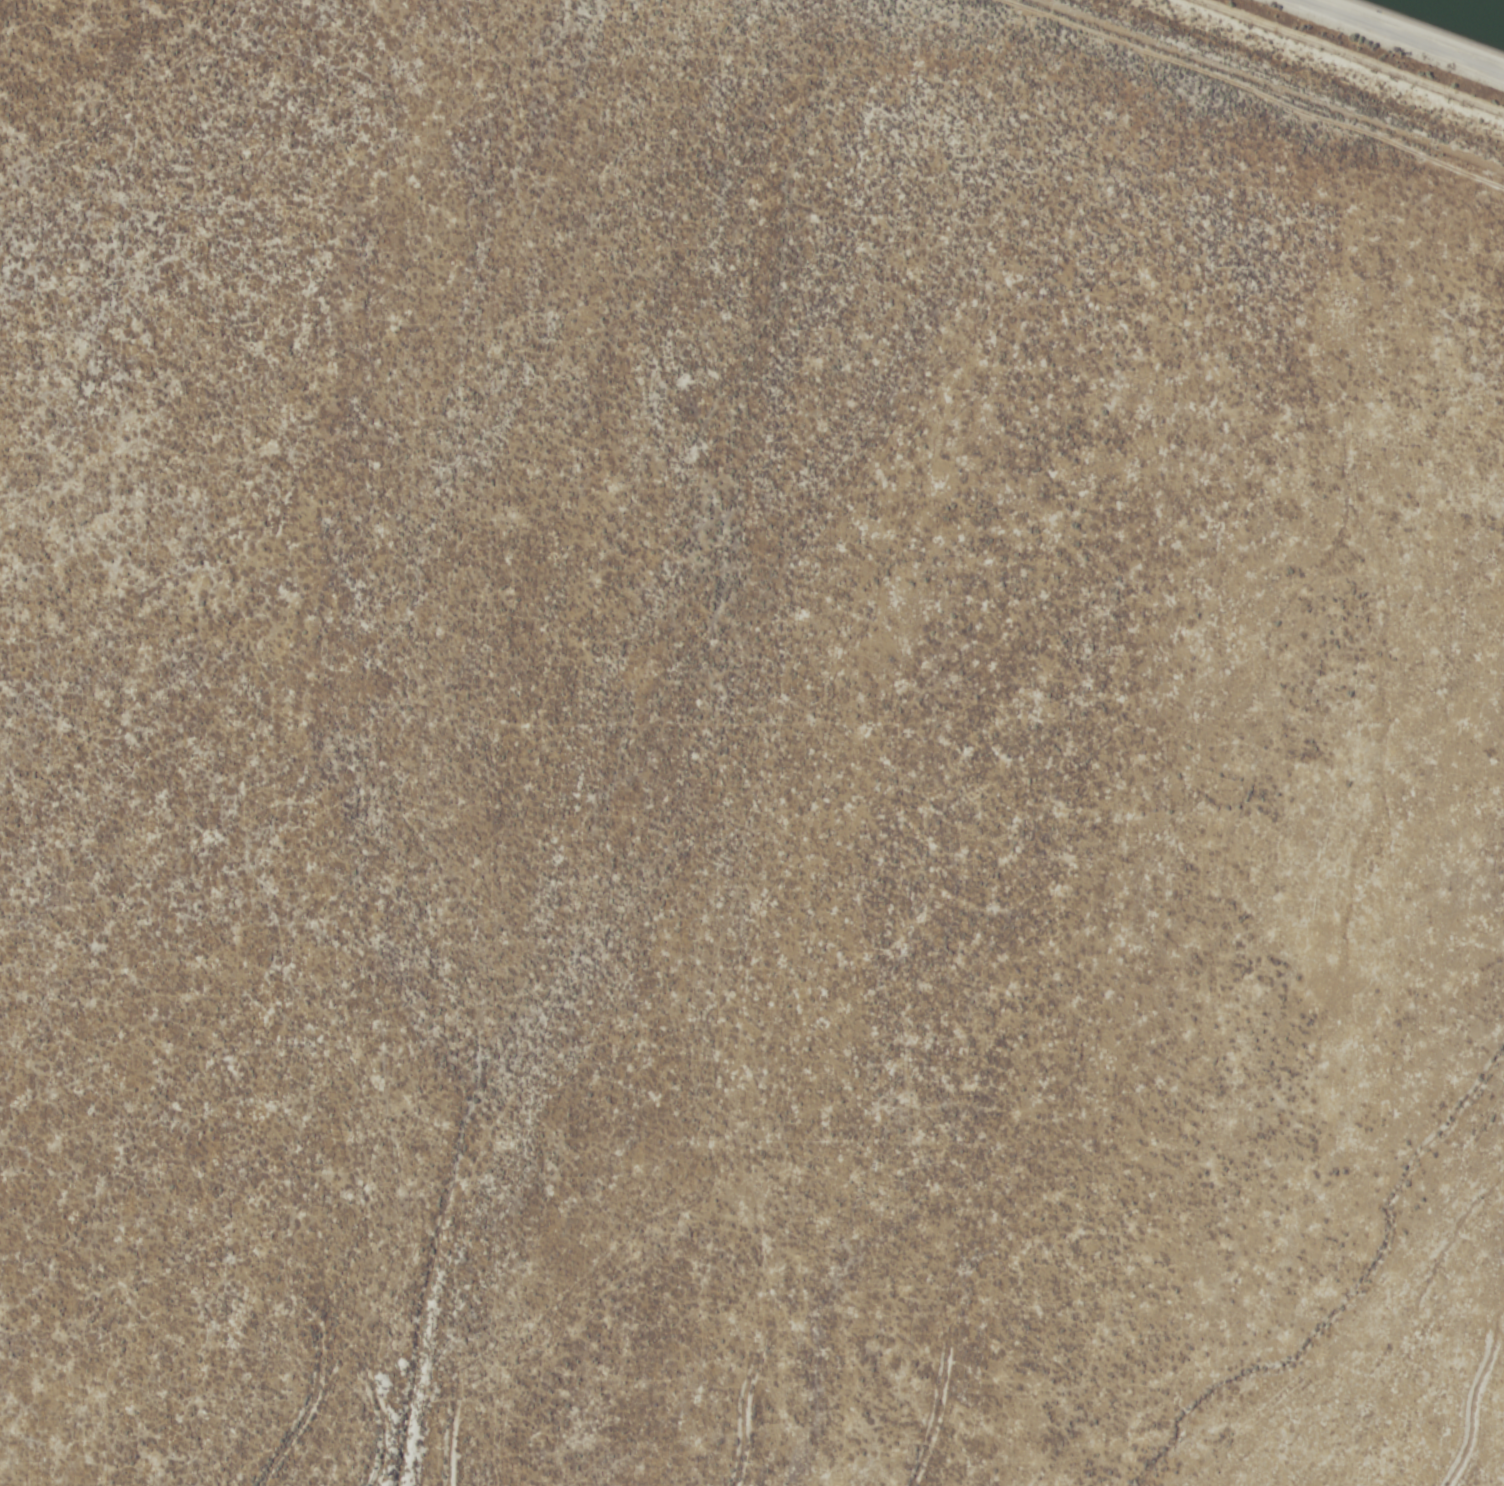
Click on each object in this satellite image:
road: (1322, 73)

